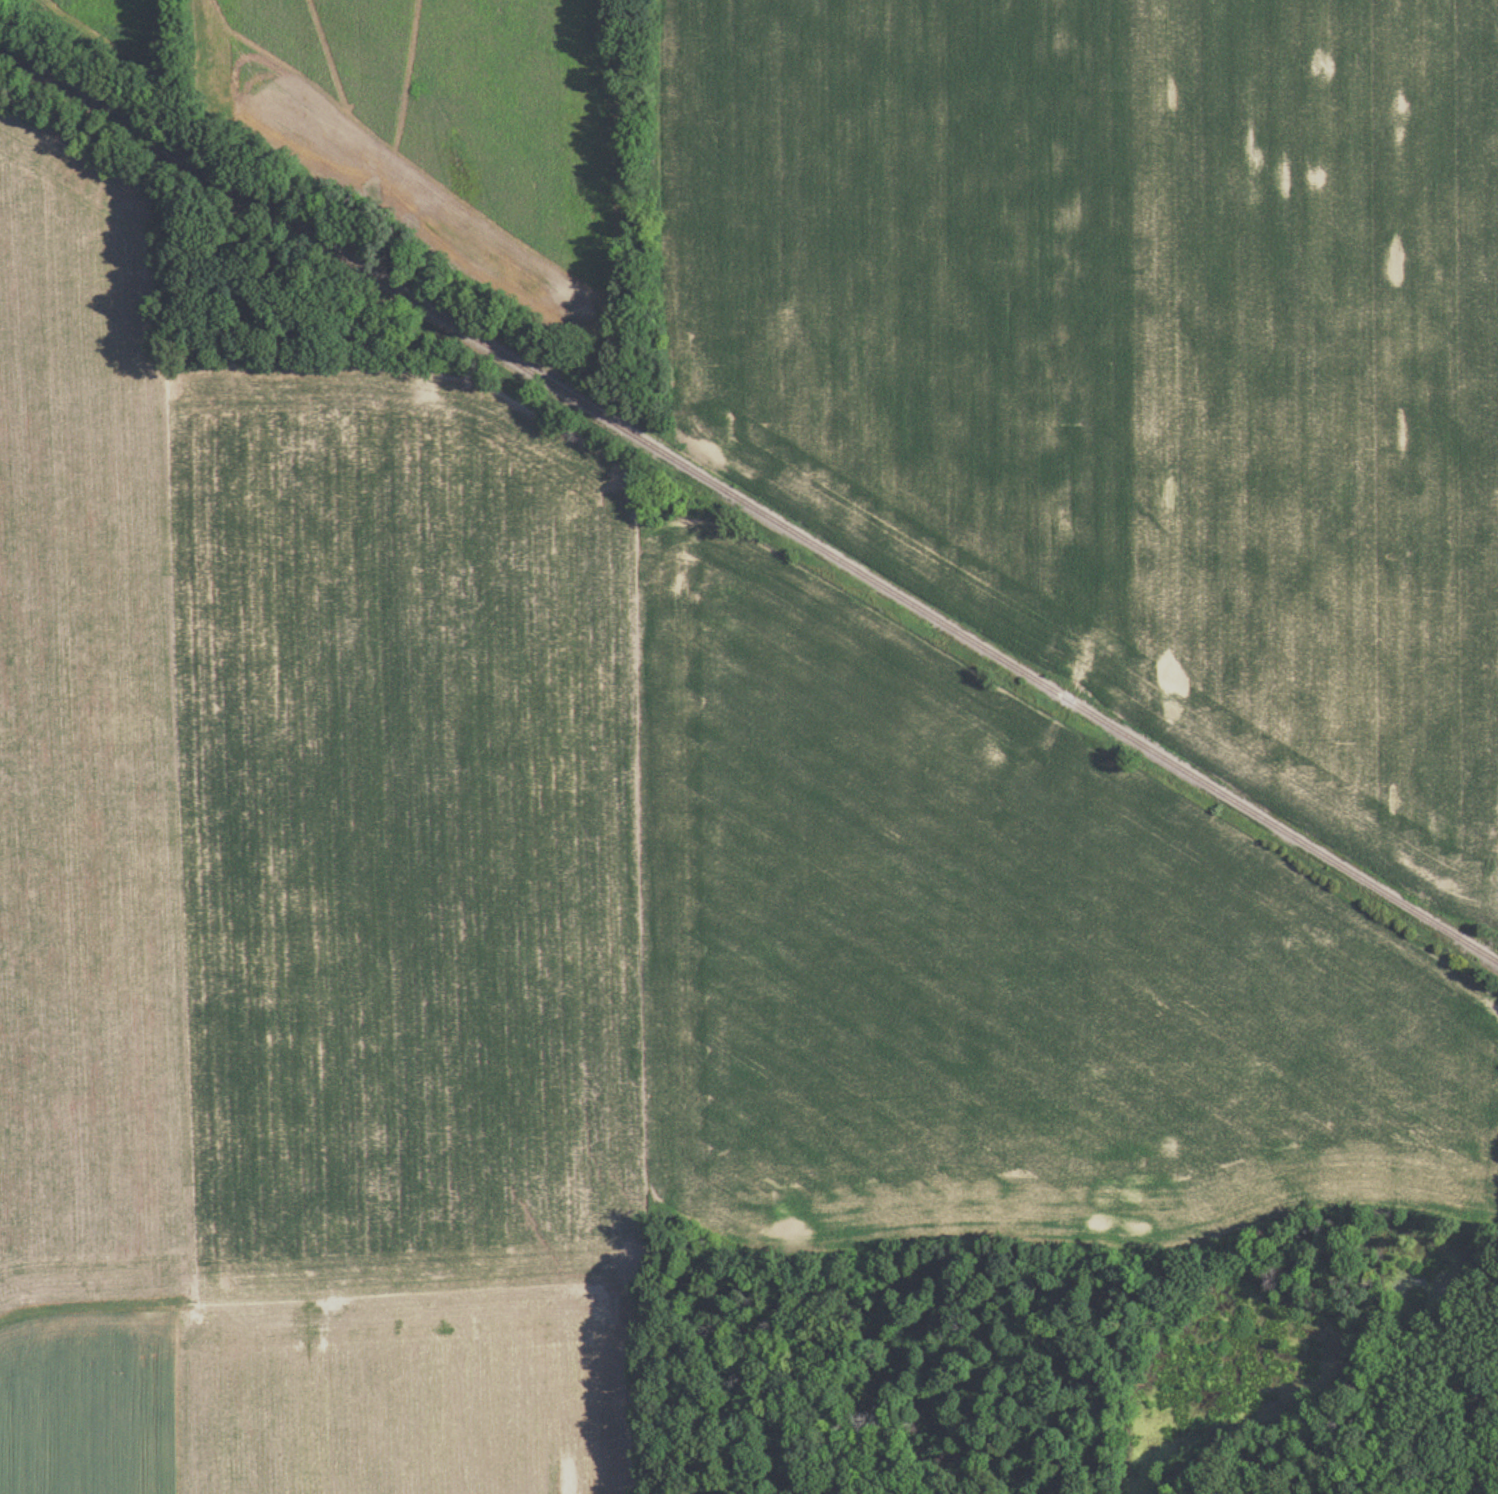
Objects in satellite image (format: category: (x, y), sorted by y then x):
railway: (749, 500)

